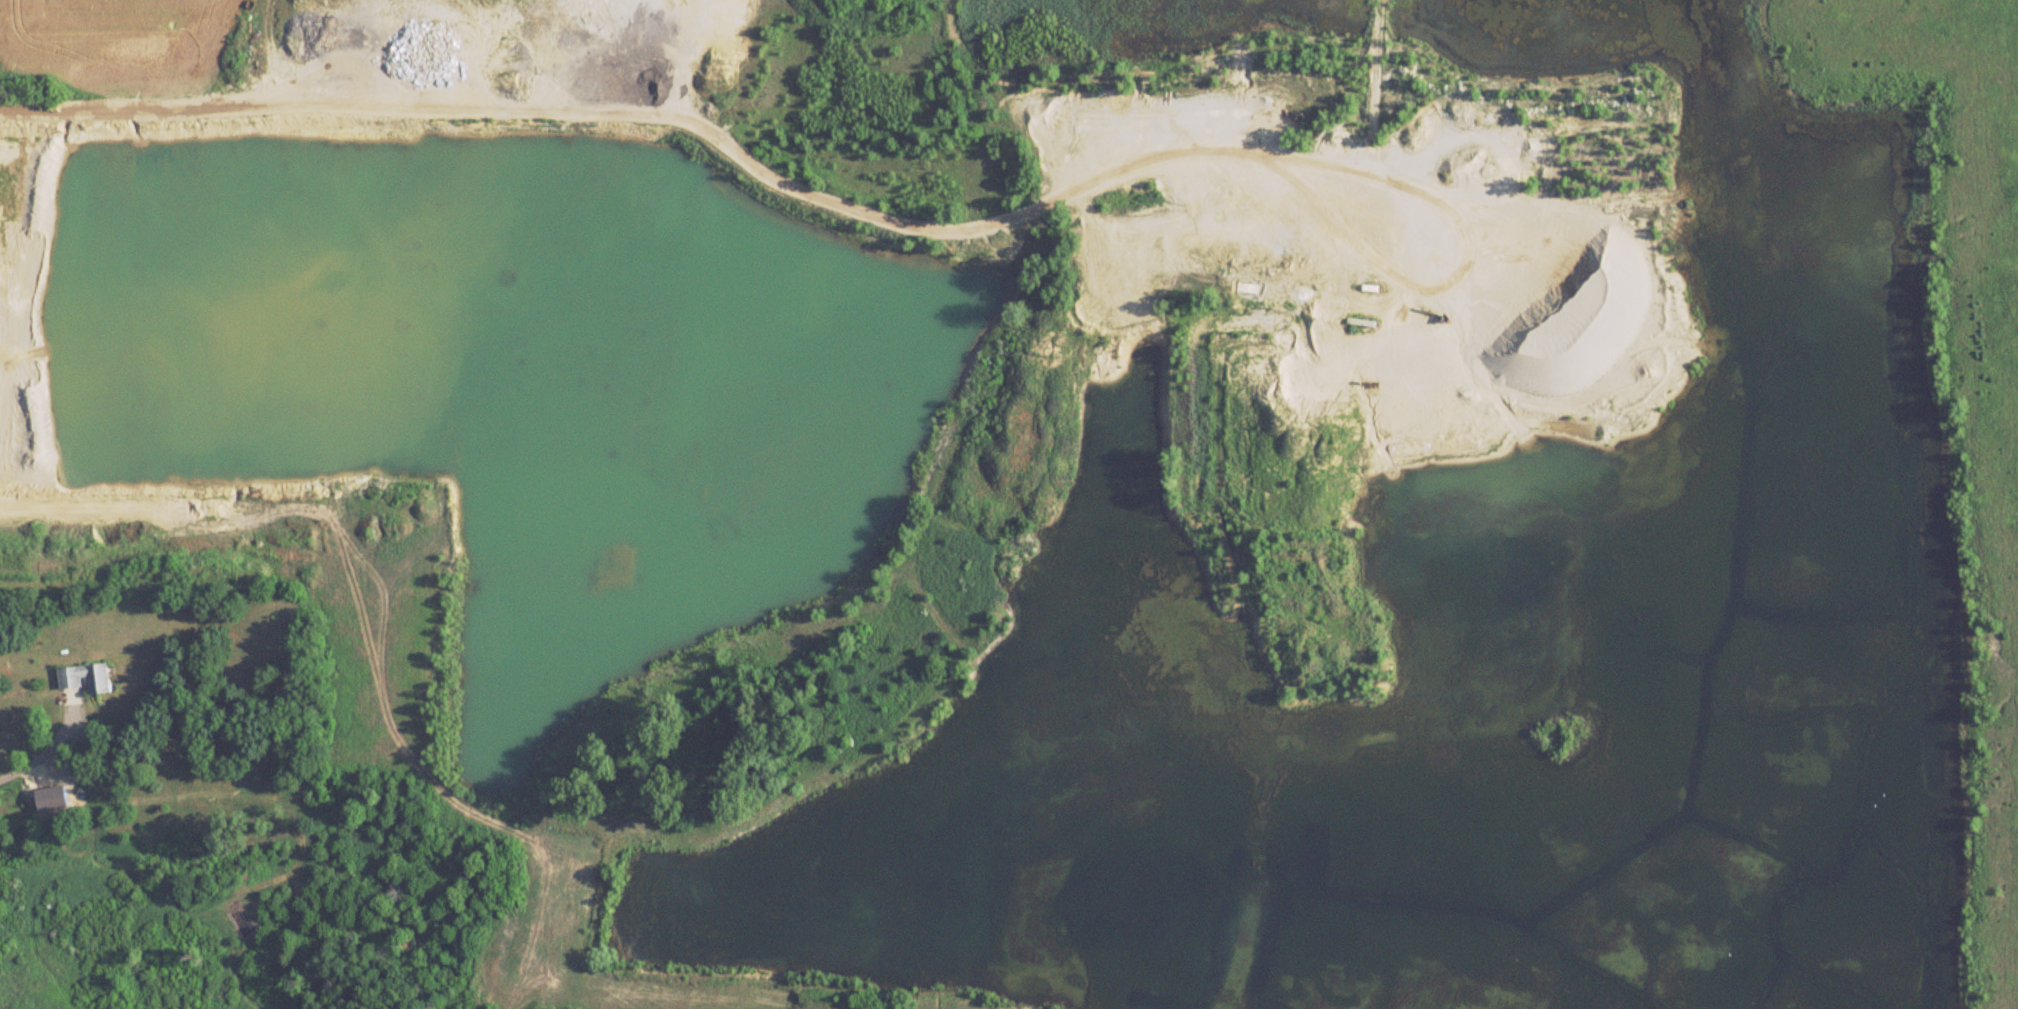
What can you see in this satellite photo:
building: (2, 171)
building: (65, 223)
building: (87, 676)
road: (42, 752)

